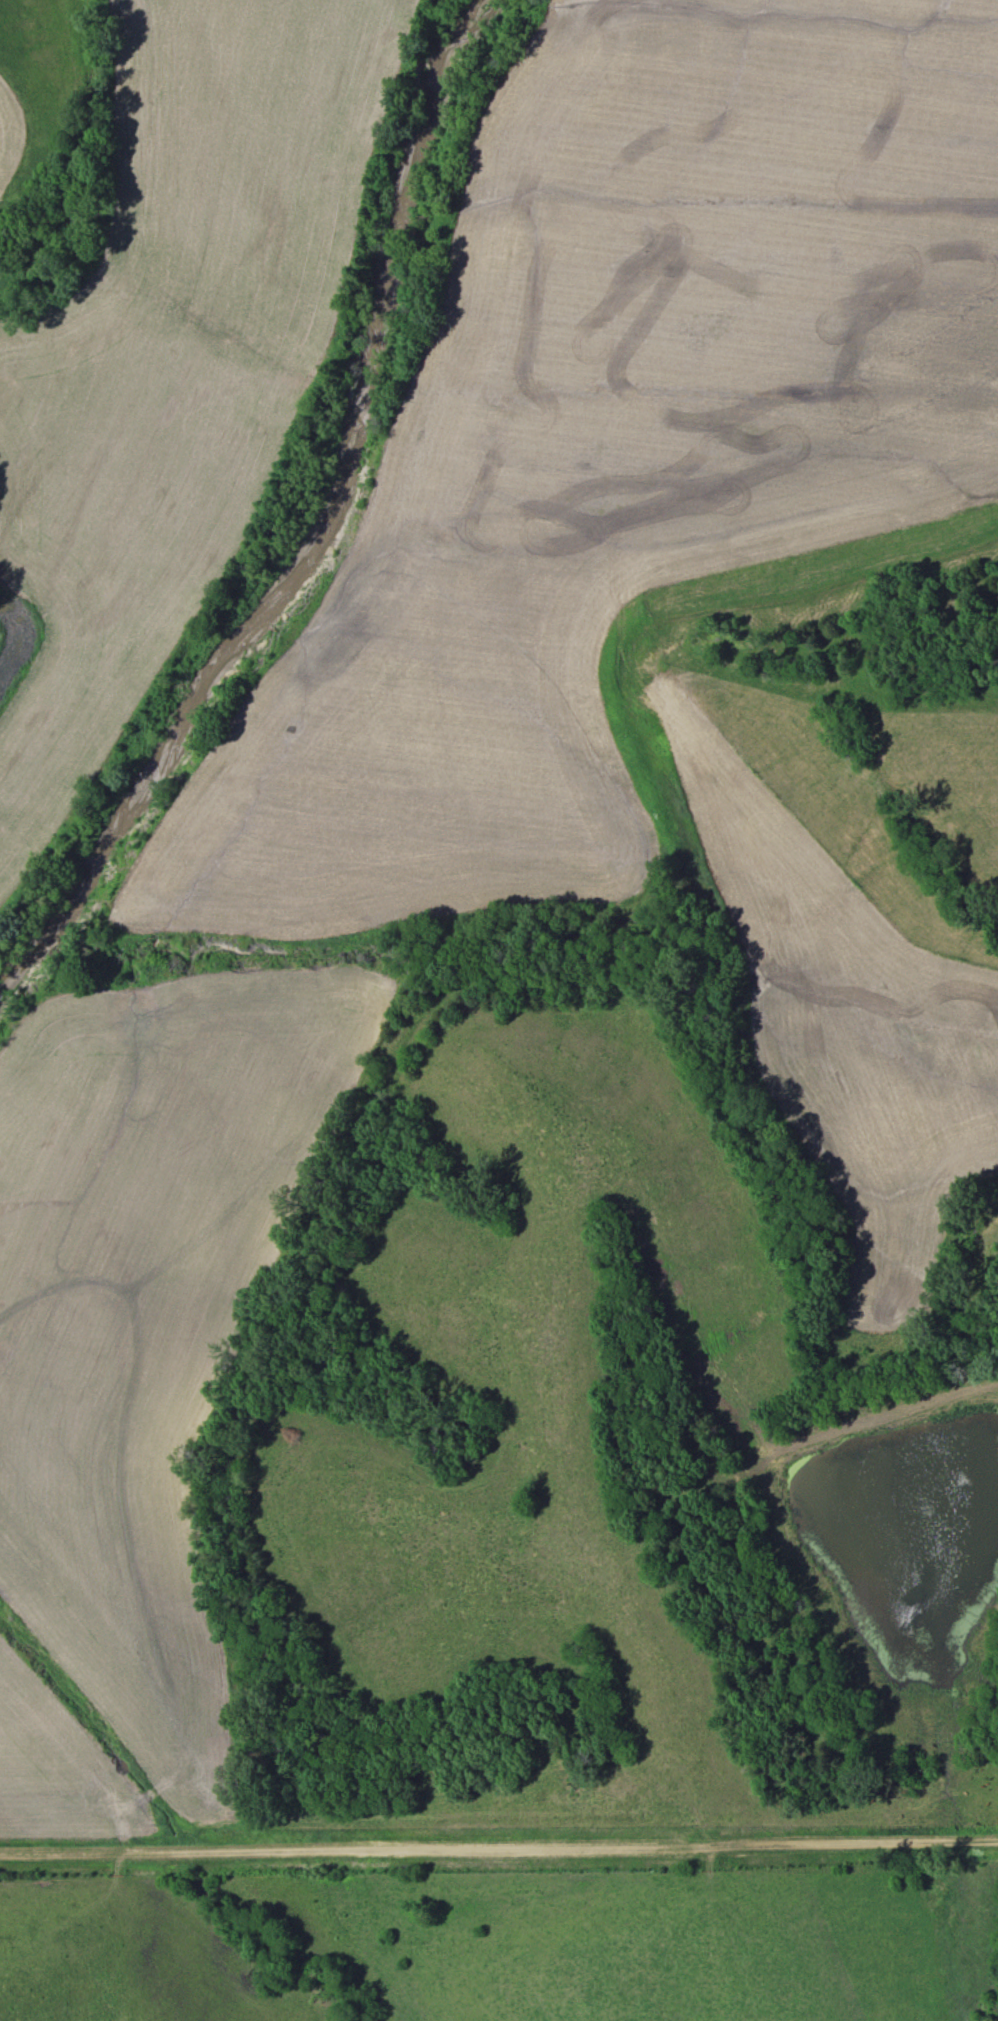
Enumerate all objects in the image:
road: (499, 1848)

